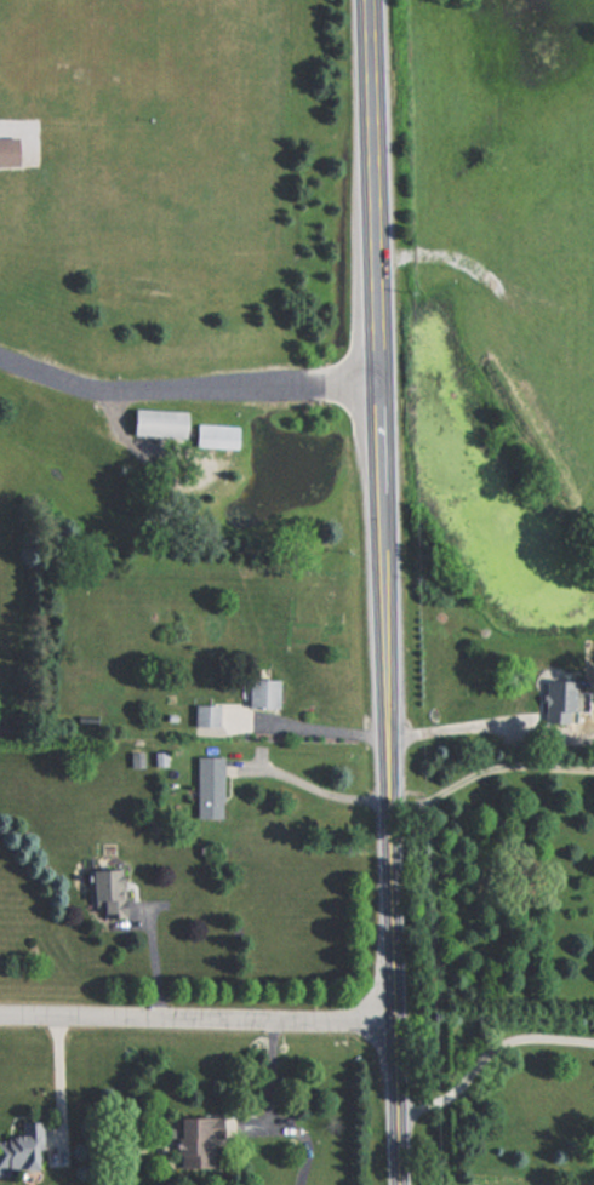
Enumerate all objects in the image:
building: (7, 153)
road: (383, 368)
road: (189, 389)
building: (154, 423)
building: (215, 435)
building: (258, 693)
building: (555, 700)
road: (320, 723)
road: (456, 729)
road: (490, 772)
road: (394, 773)
building: (207, 786)
road: (319, 790)
building: (102, 892)
road: (400, 996)
road: (200, 1013)
road: (489, 1049)
road: (265, 1087)
building: (198, 1139)
building: (21, 1147)

